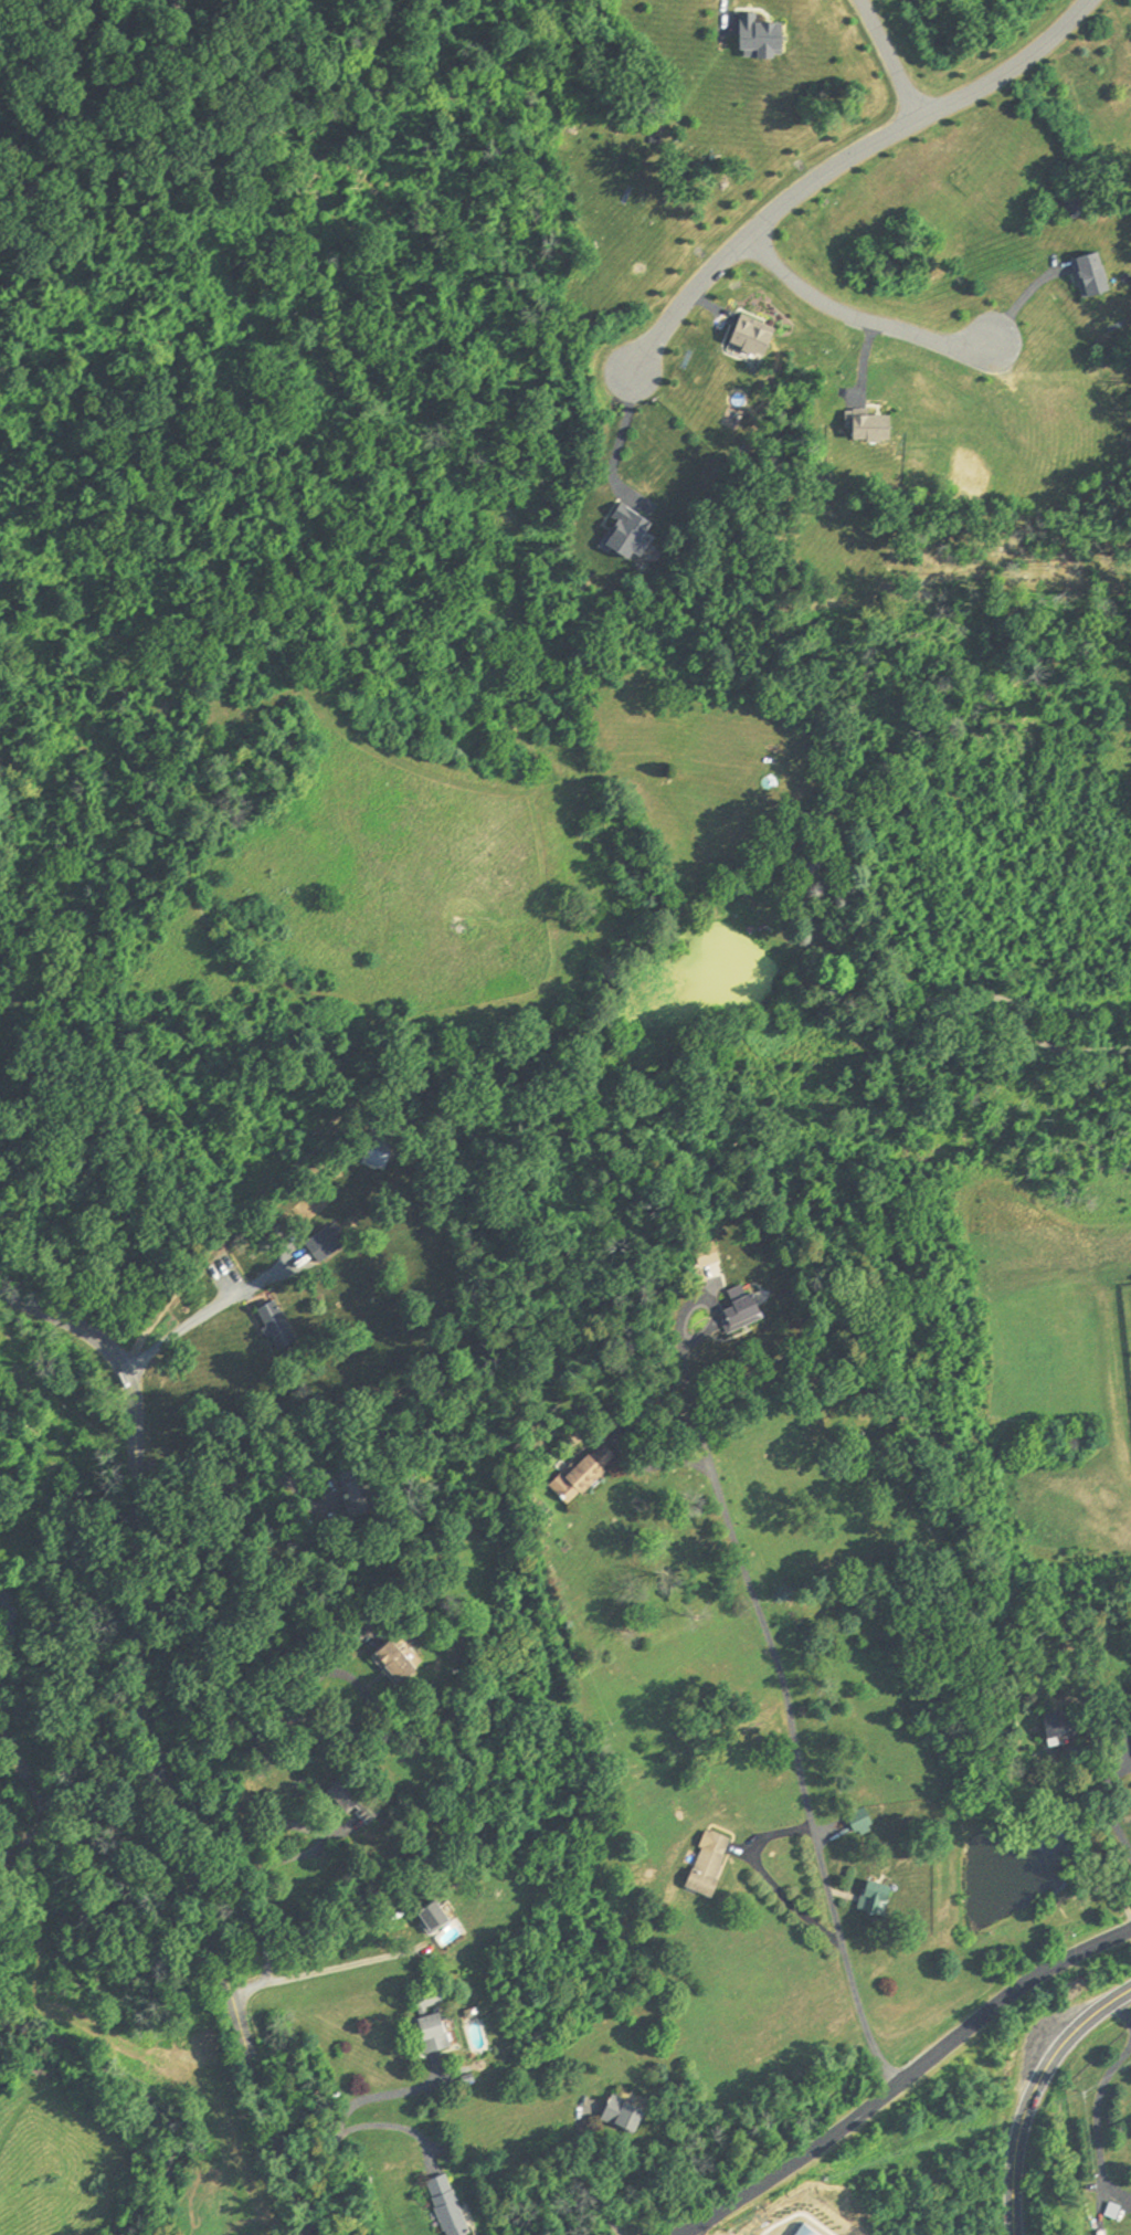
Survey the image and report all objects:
road: (727, 14)
building: (761, 41)
road: (888, 57)
road: (839, 160)
building: (1092, 275)
road: (1024, 298)
road: (857, 319)
building: (753, 338)
building: (871, 428)
road: (623, 433)
building: (628, 535)
road: (306, 977)
road: (947, 999)
road: (1088, 1056)
building: (376, 1161)
building: (741, 1314)
building: (276, 1328)
road: (689, 1342)
building: (585, 1475)
road: (212, 1488)
building: (394, 1666)
road: (281, 1721)
building: (1063, 1728)
road: (149, 1736)
road: (791, 1740)
building: (346, 1798)
road: (1108, 1803)
building: (860, 1823)
road: (1100, 1834)
road: (256, 1845)
building: (710, 1866)
road: (764, 1878)
building: (876, 1900)
building: (433, 1919)
road: (315, 1974)
road: (1121, 2015)
building: (431, 2022)
road: (906, 2077)
road: (1032, 2092)
building: (625, 2113)
road: (345, 2116)
road: (394, 2123)
road: (1099, 2127)
road: (598, 2171)
building: (447, 2205)

